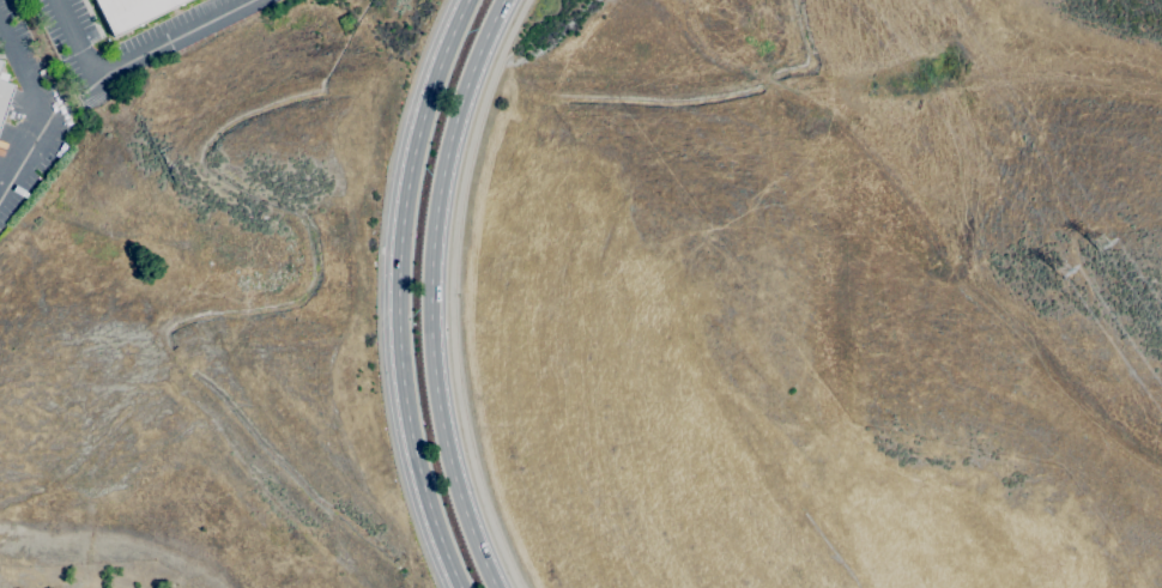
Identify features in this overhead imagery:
building: (132, 12)
parking lot: (126, 32)
road: (137, 56)
building: (0, 62)
building: (4, 96)
road: (40, 115)
power tower: (1099, 244)
power tower: (1063, 272)
road: (401, 292)
road: (430, 292)
road: (453, 292)

